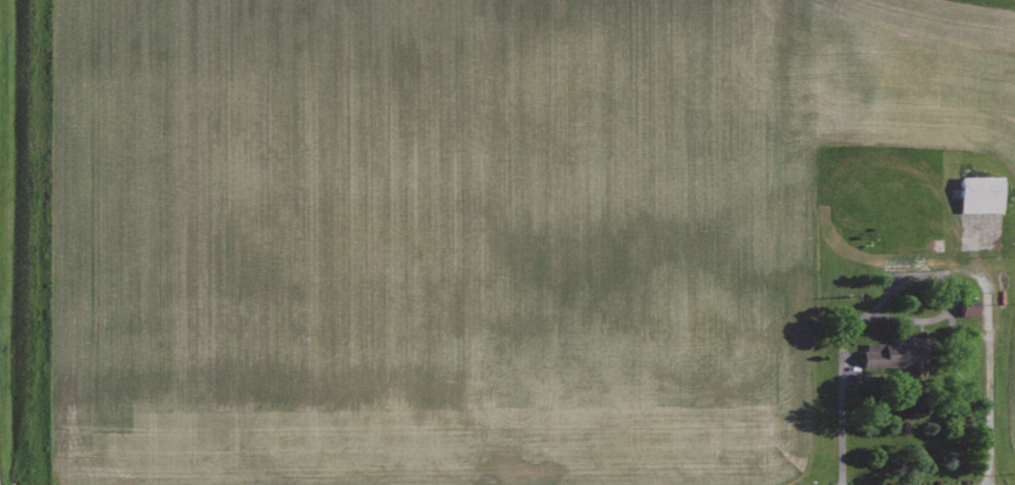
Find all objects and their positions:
building: (984, 193)
crop: (468, 229)
building: (972, 306)
building: (899, 354)

